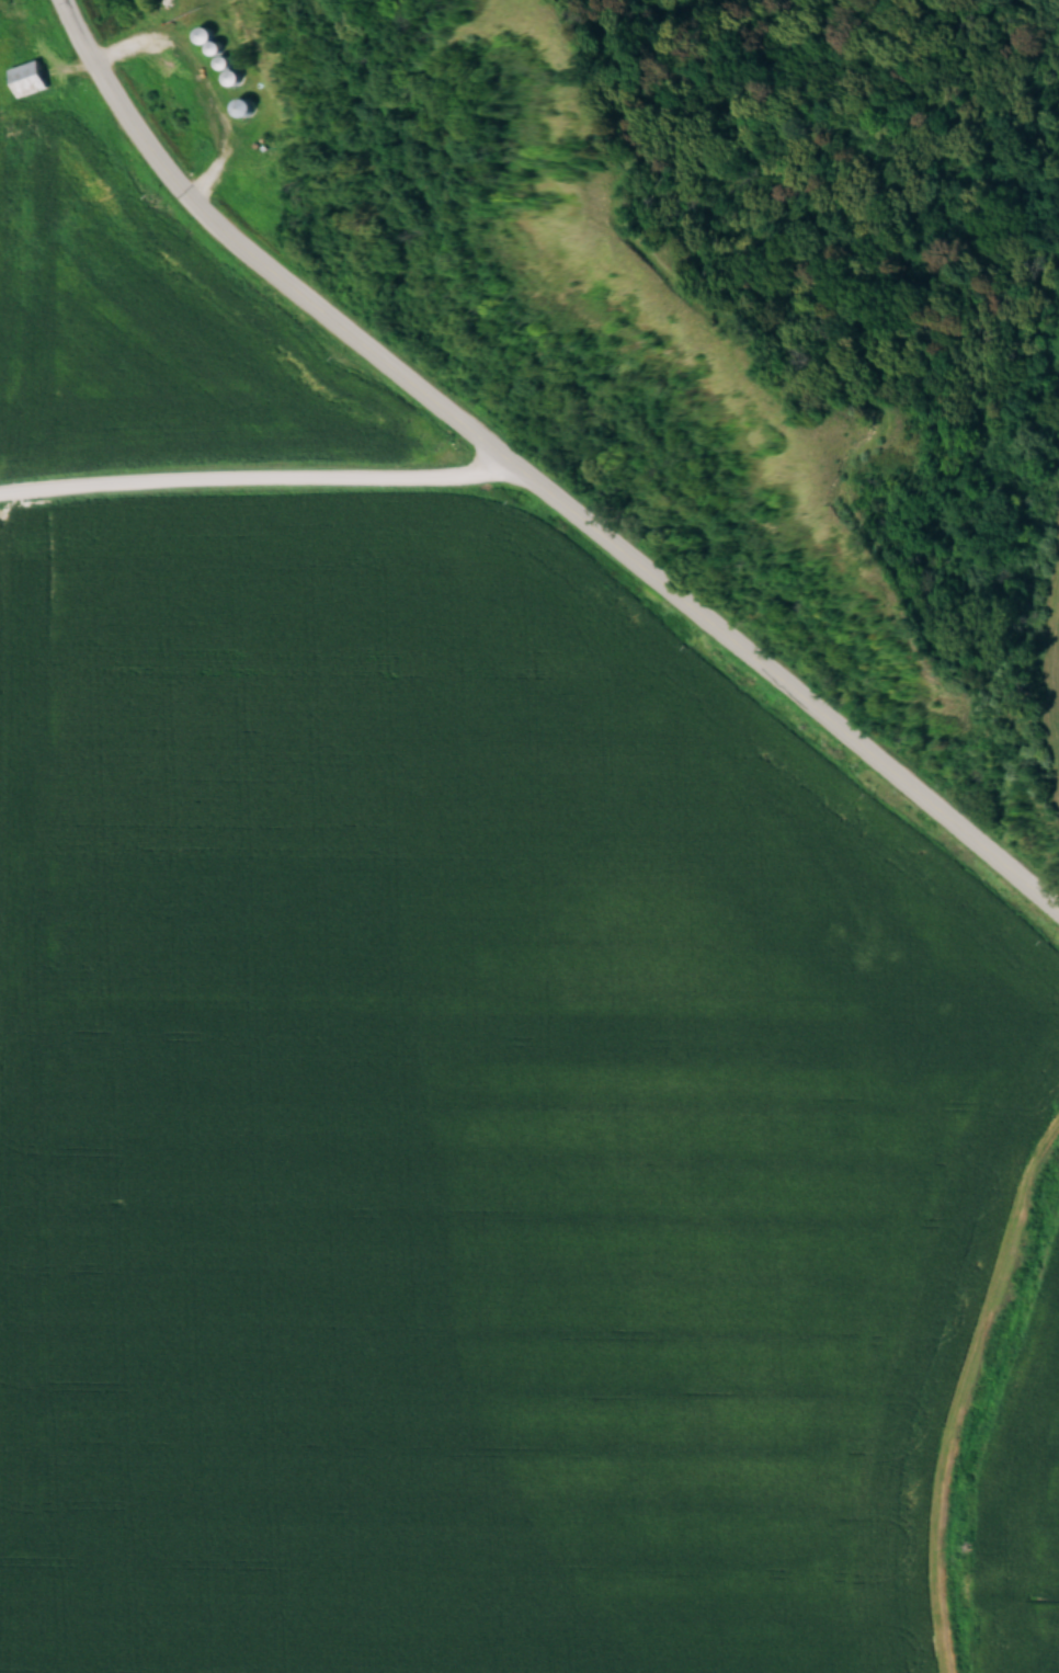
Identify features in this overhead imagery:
building: (204, 34)
building: (29, 77)
building: (234, 77)
road: (247, 476)
road: (527, 483)

